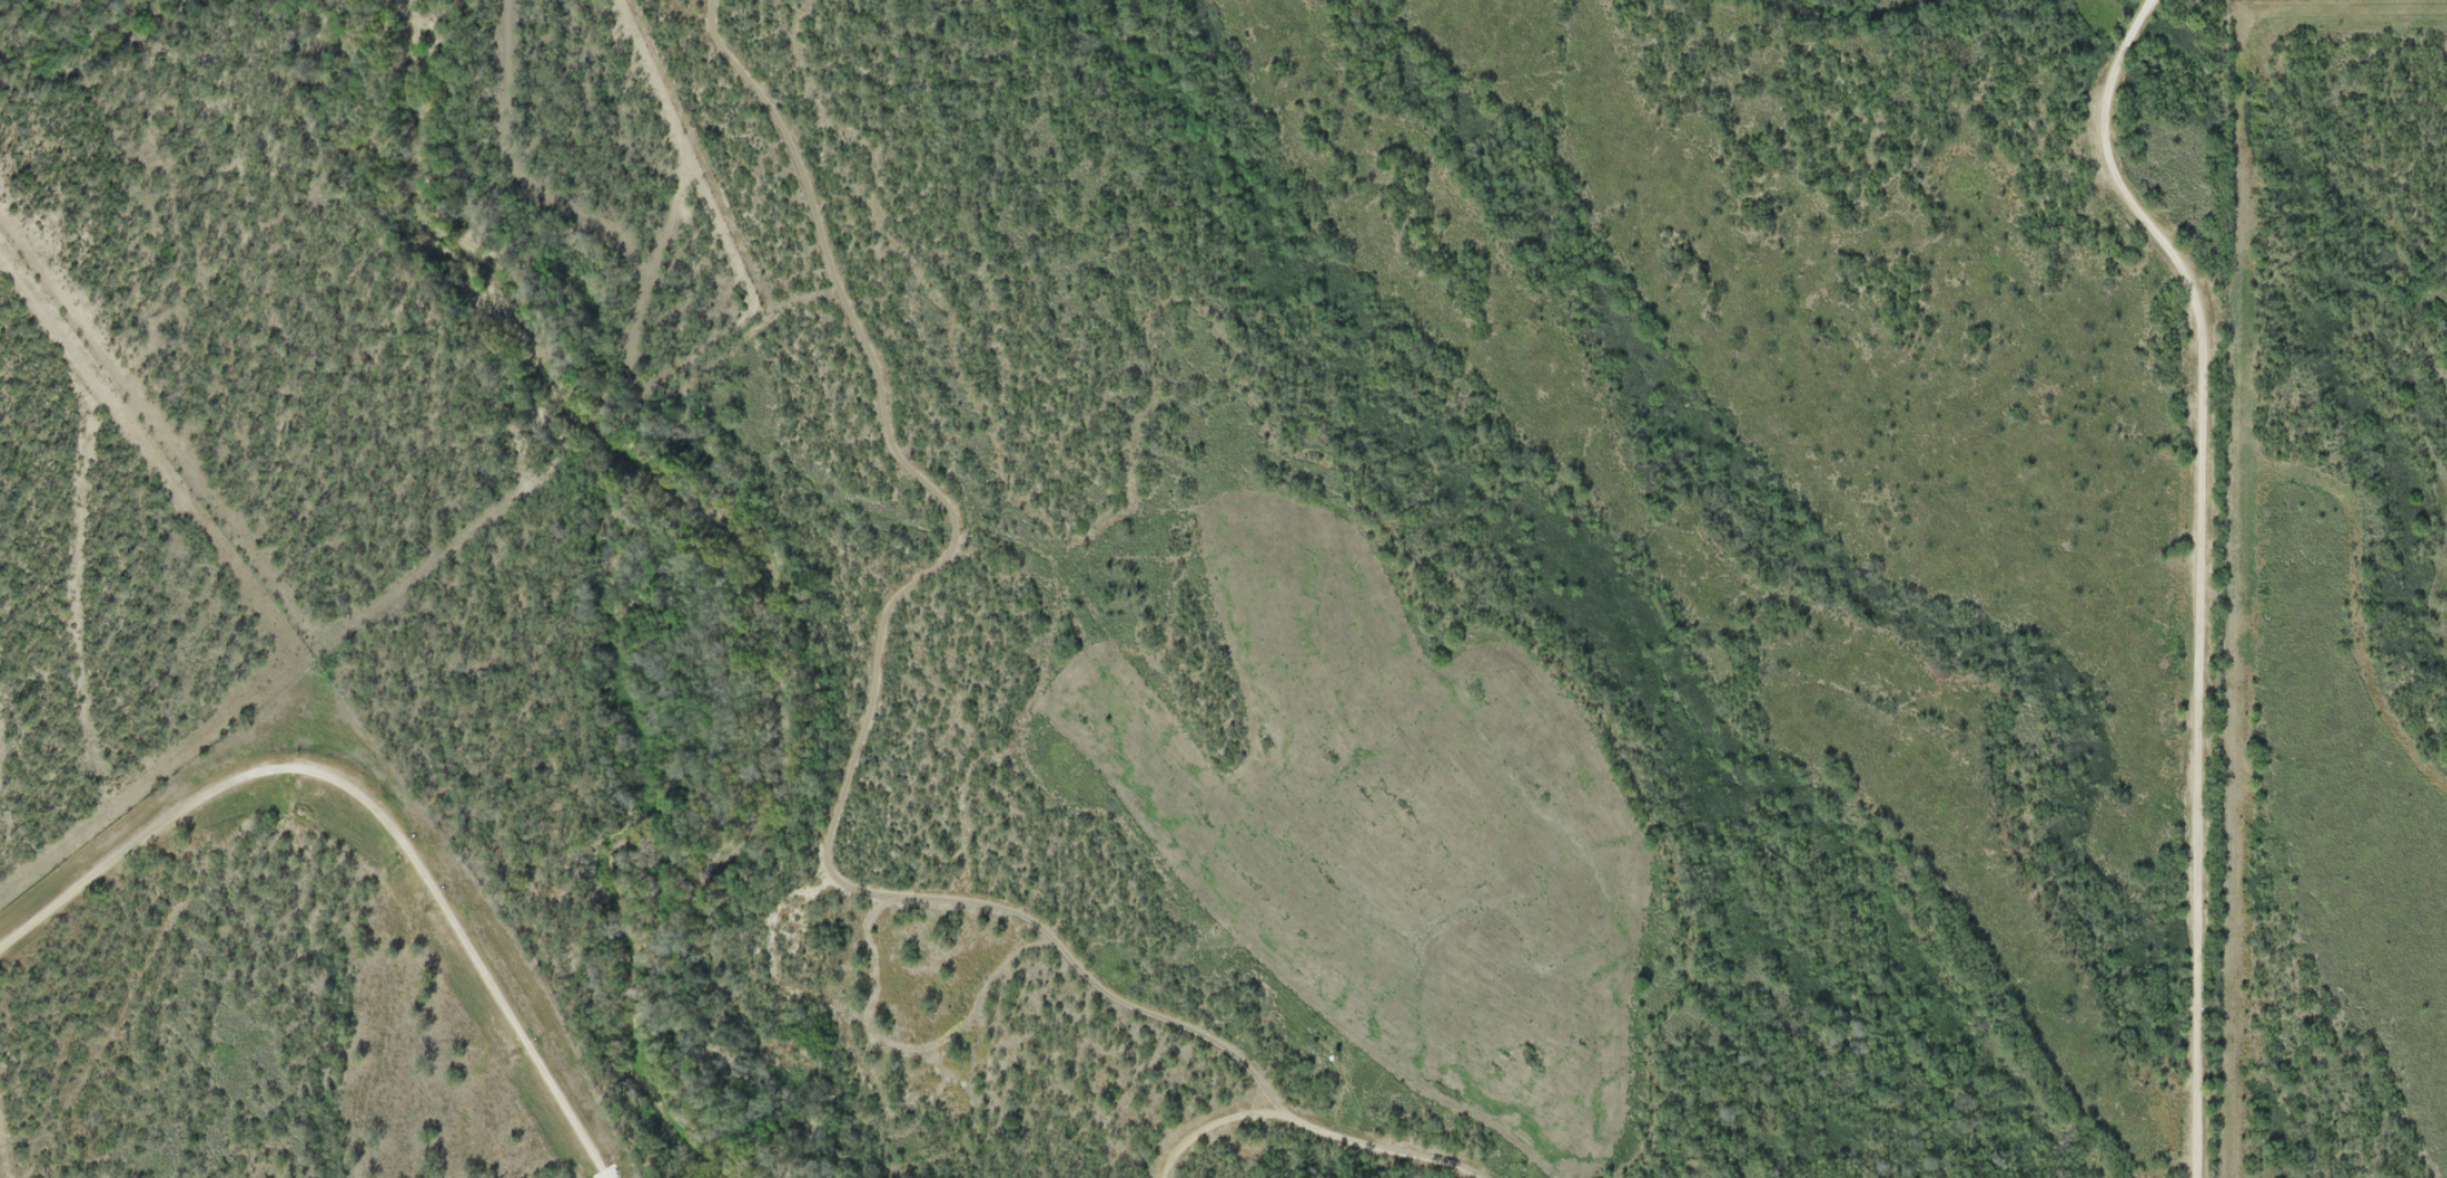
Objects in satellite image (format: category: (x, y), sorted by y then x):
road: (2198, 570)
river: (765, 611)
road: (374, 805)

